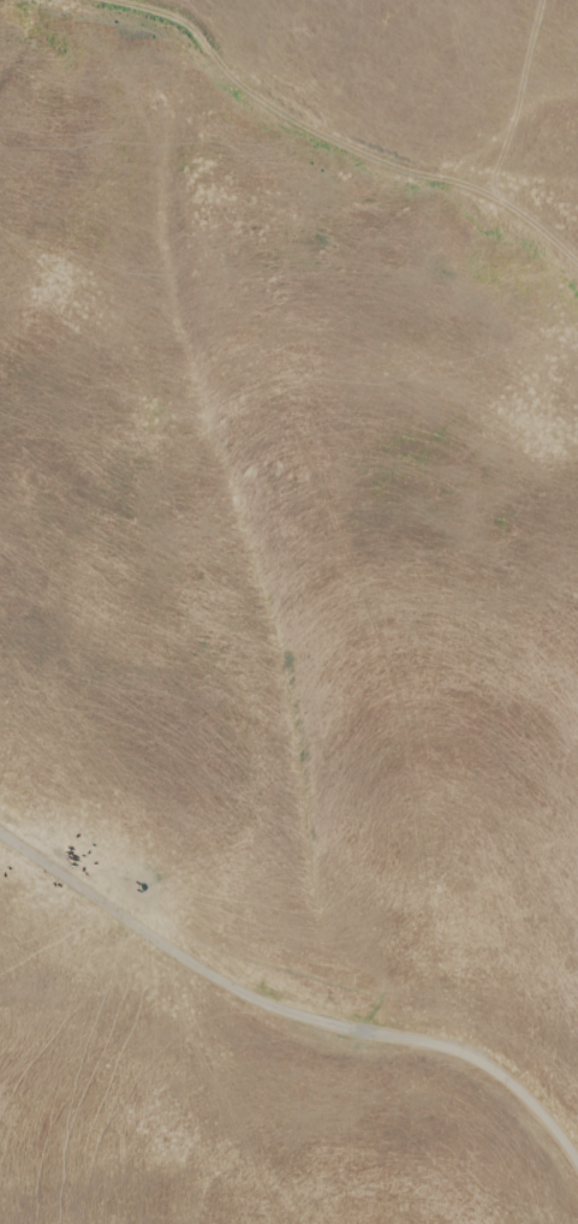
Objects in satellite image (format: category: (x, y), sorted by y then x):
road: (290, 1010)

